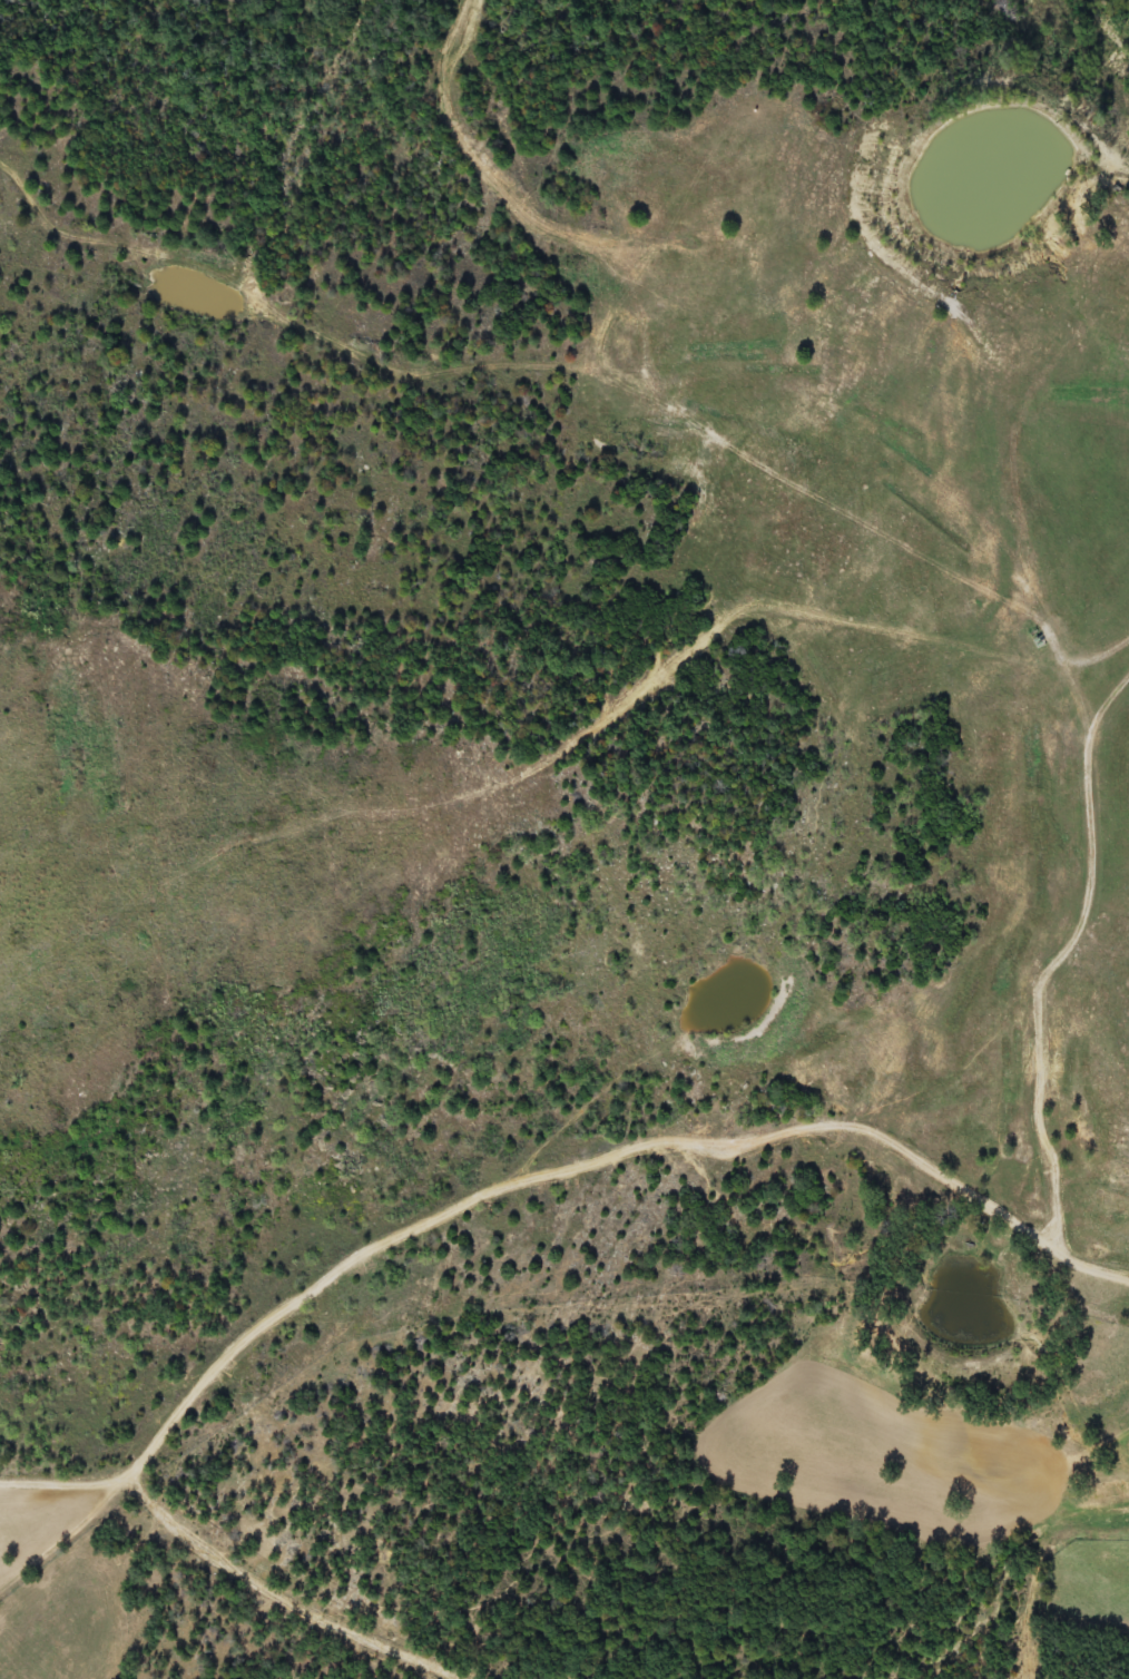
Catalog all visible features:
road: (534, 1172)
road: (288, 1598)

